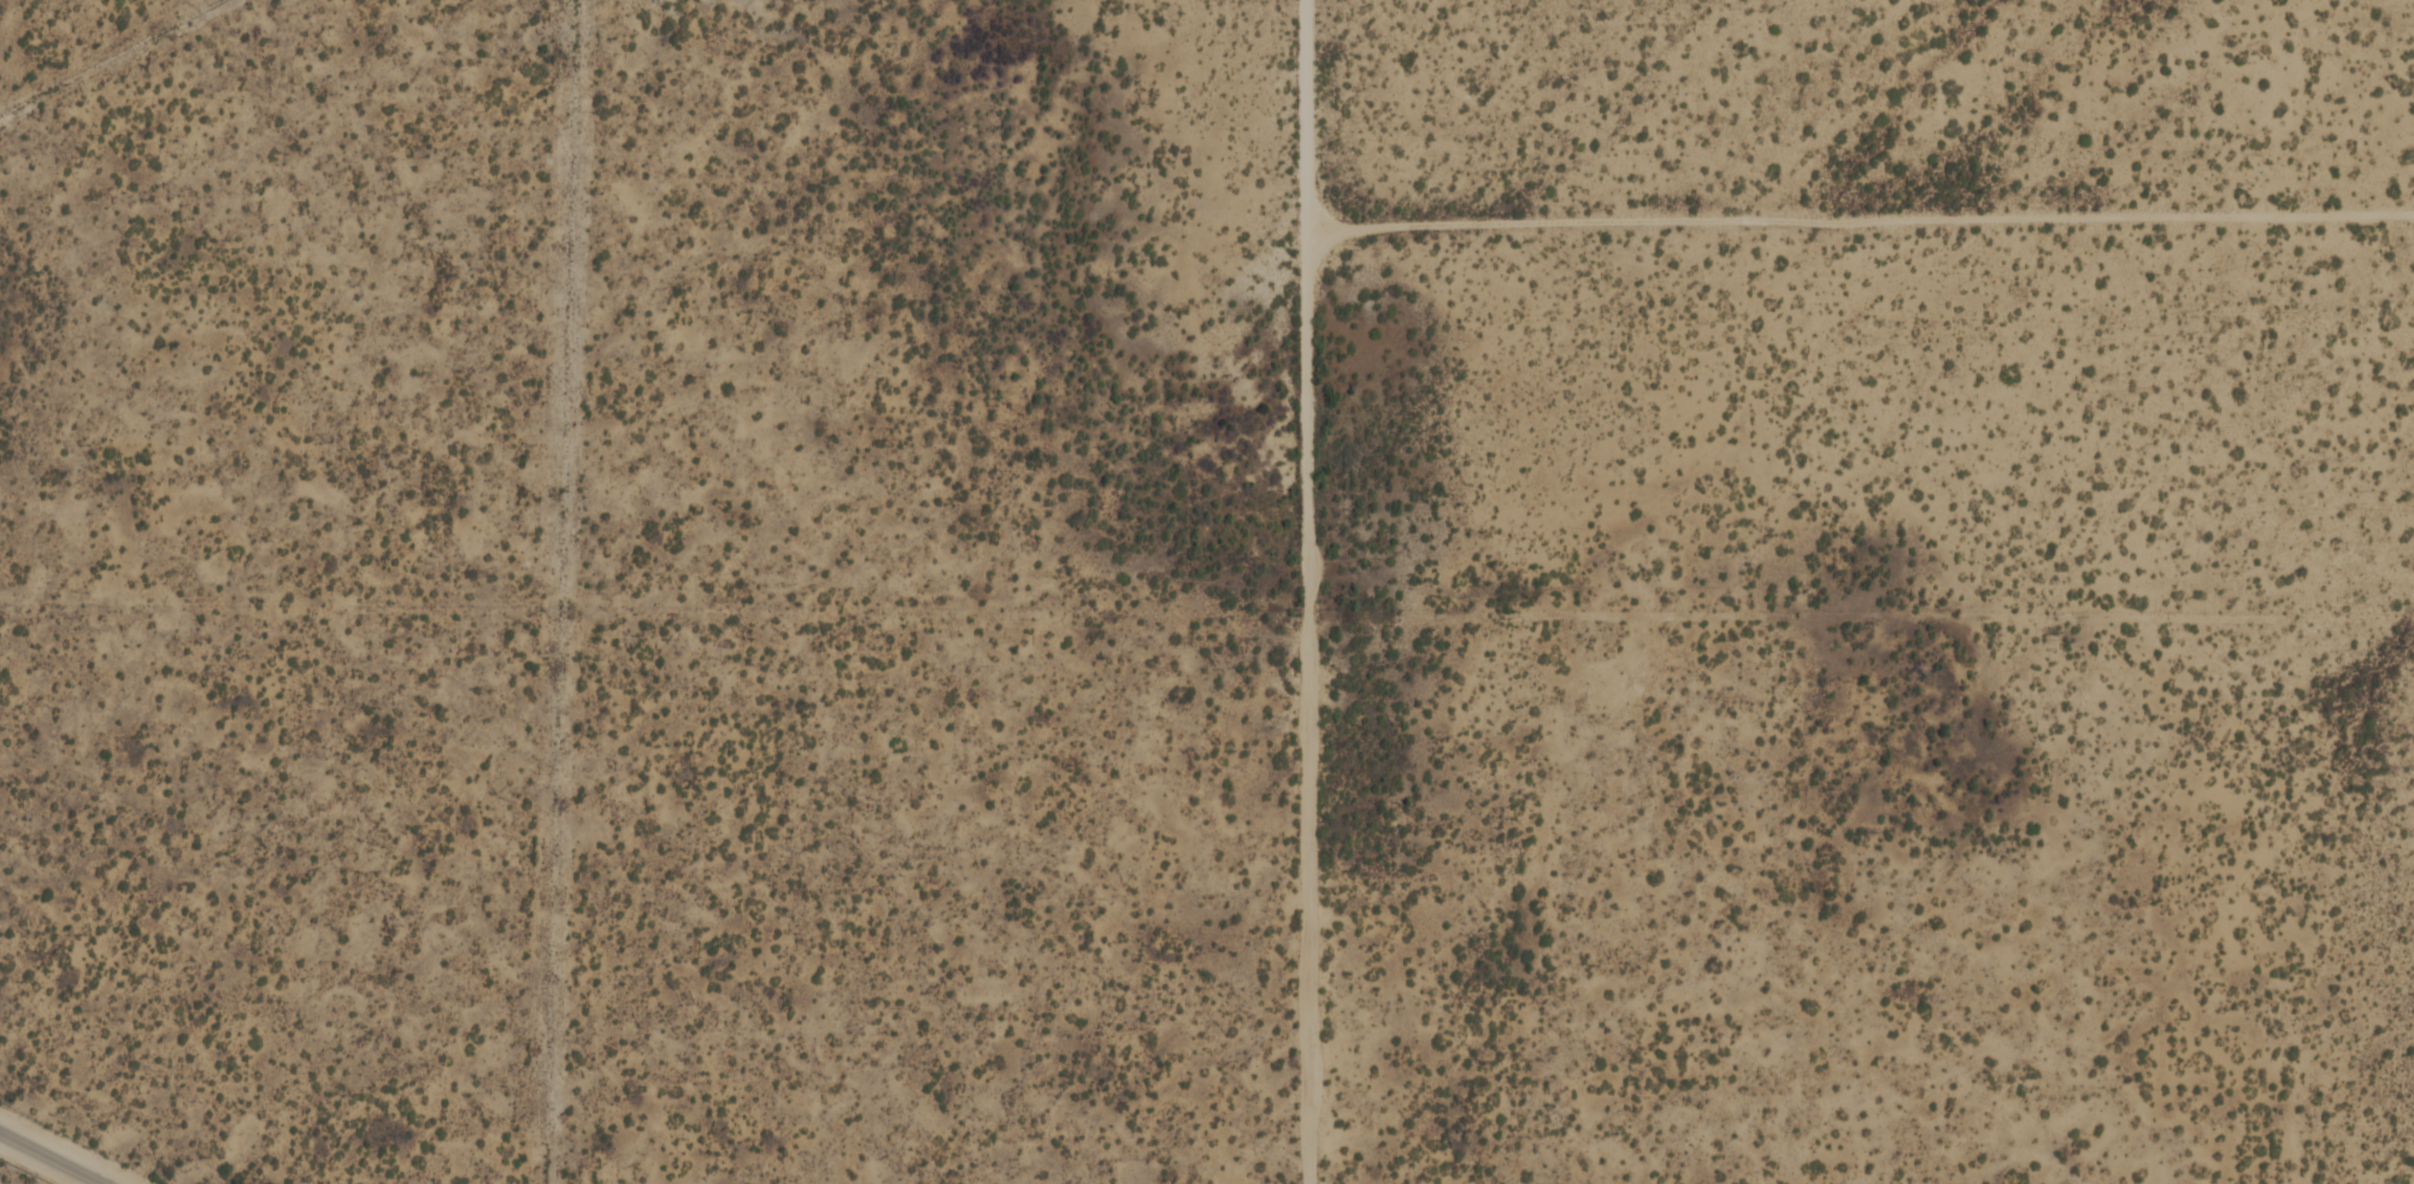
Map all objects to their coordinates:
road: (1860, 222)
road: (1309, 591)
road: (52, 1158)

